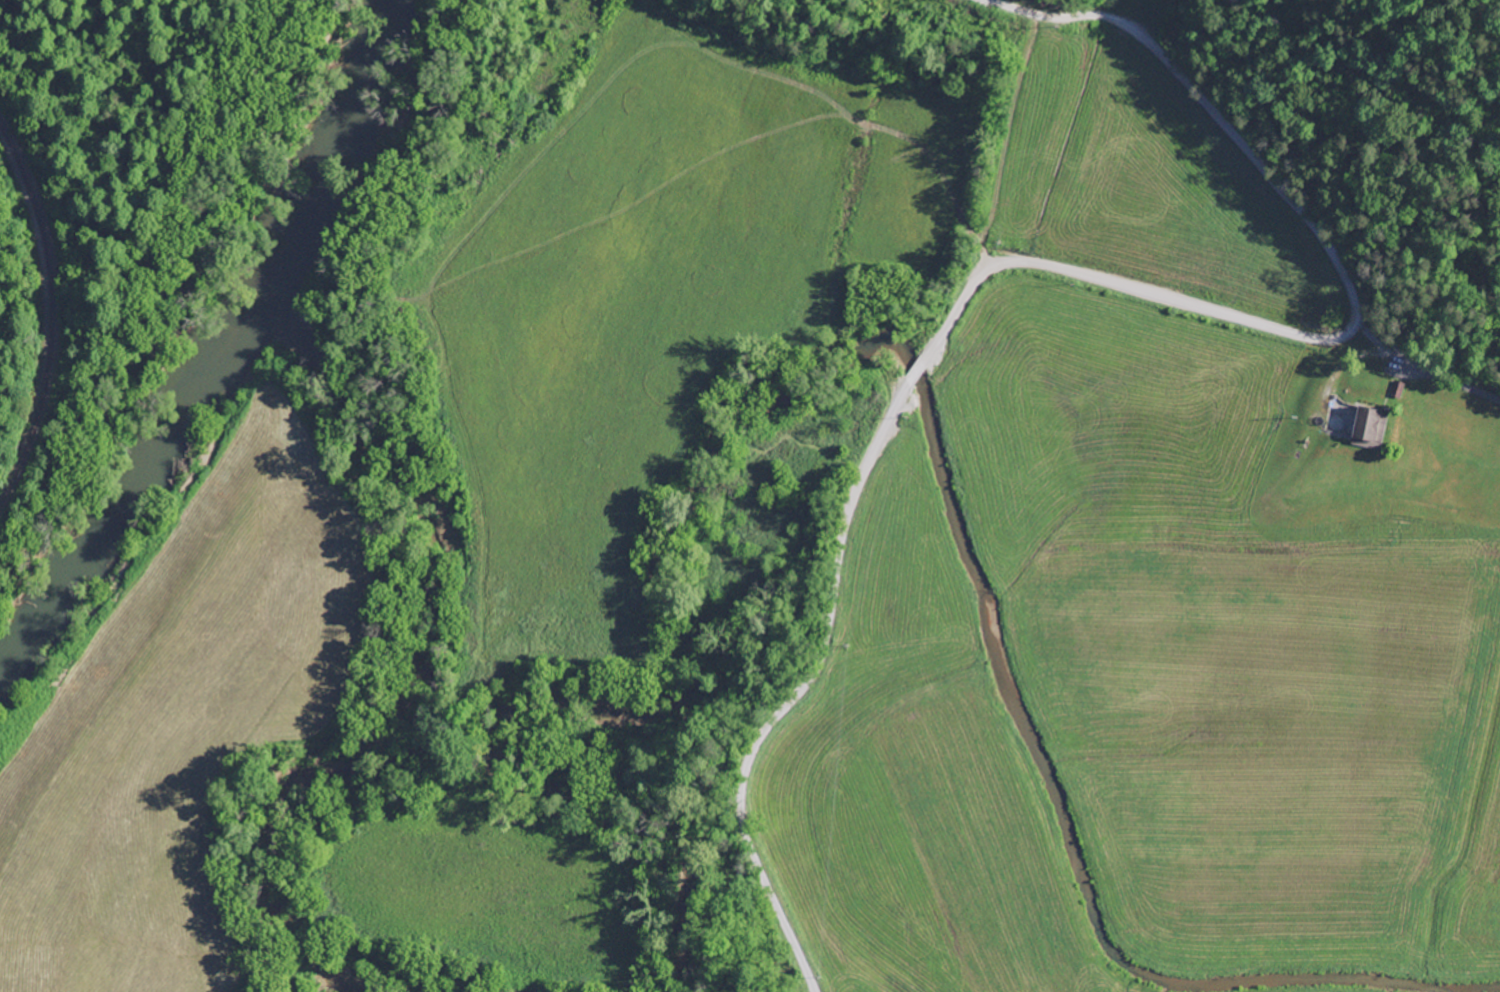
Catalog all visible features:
road: (1040, 263)
railway: (50, 315)
road: (1428, 335)
river: (231, 357)

